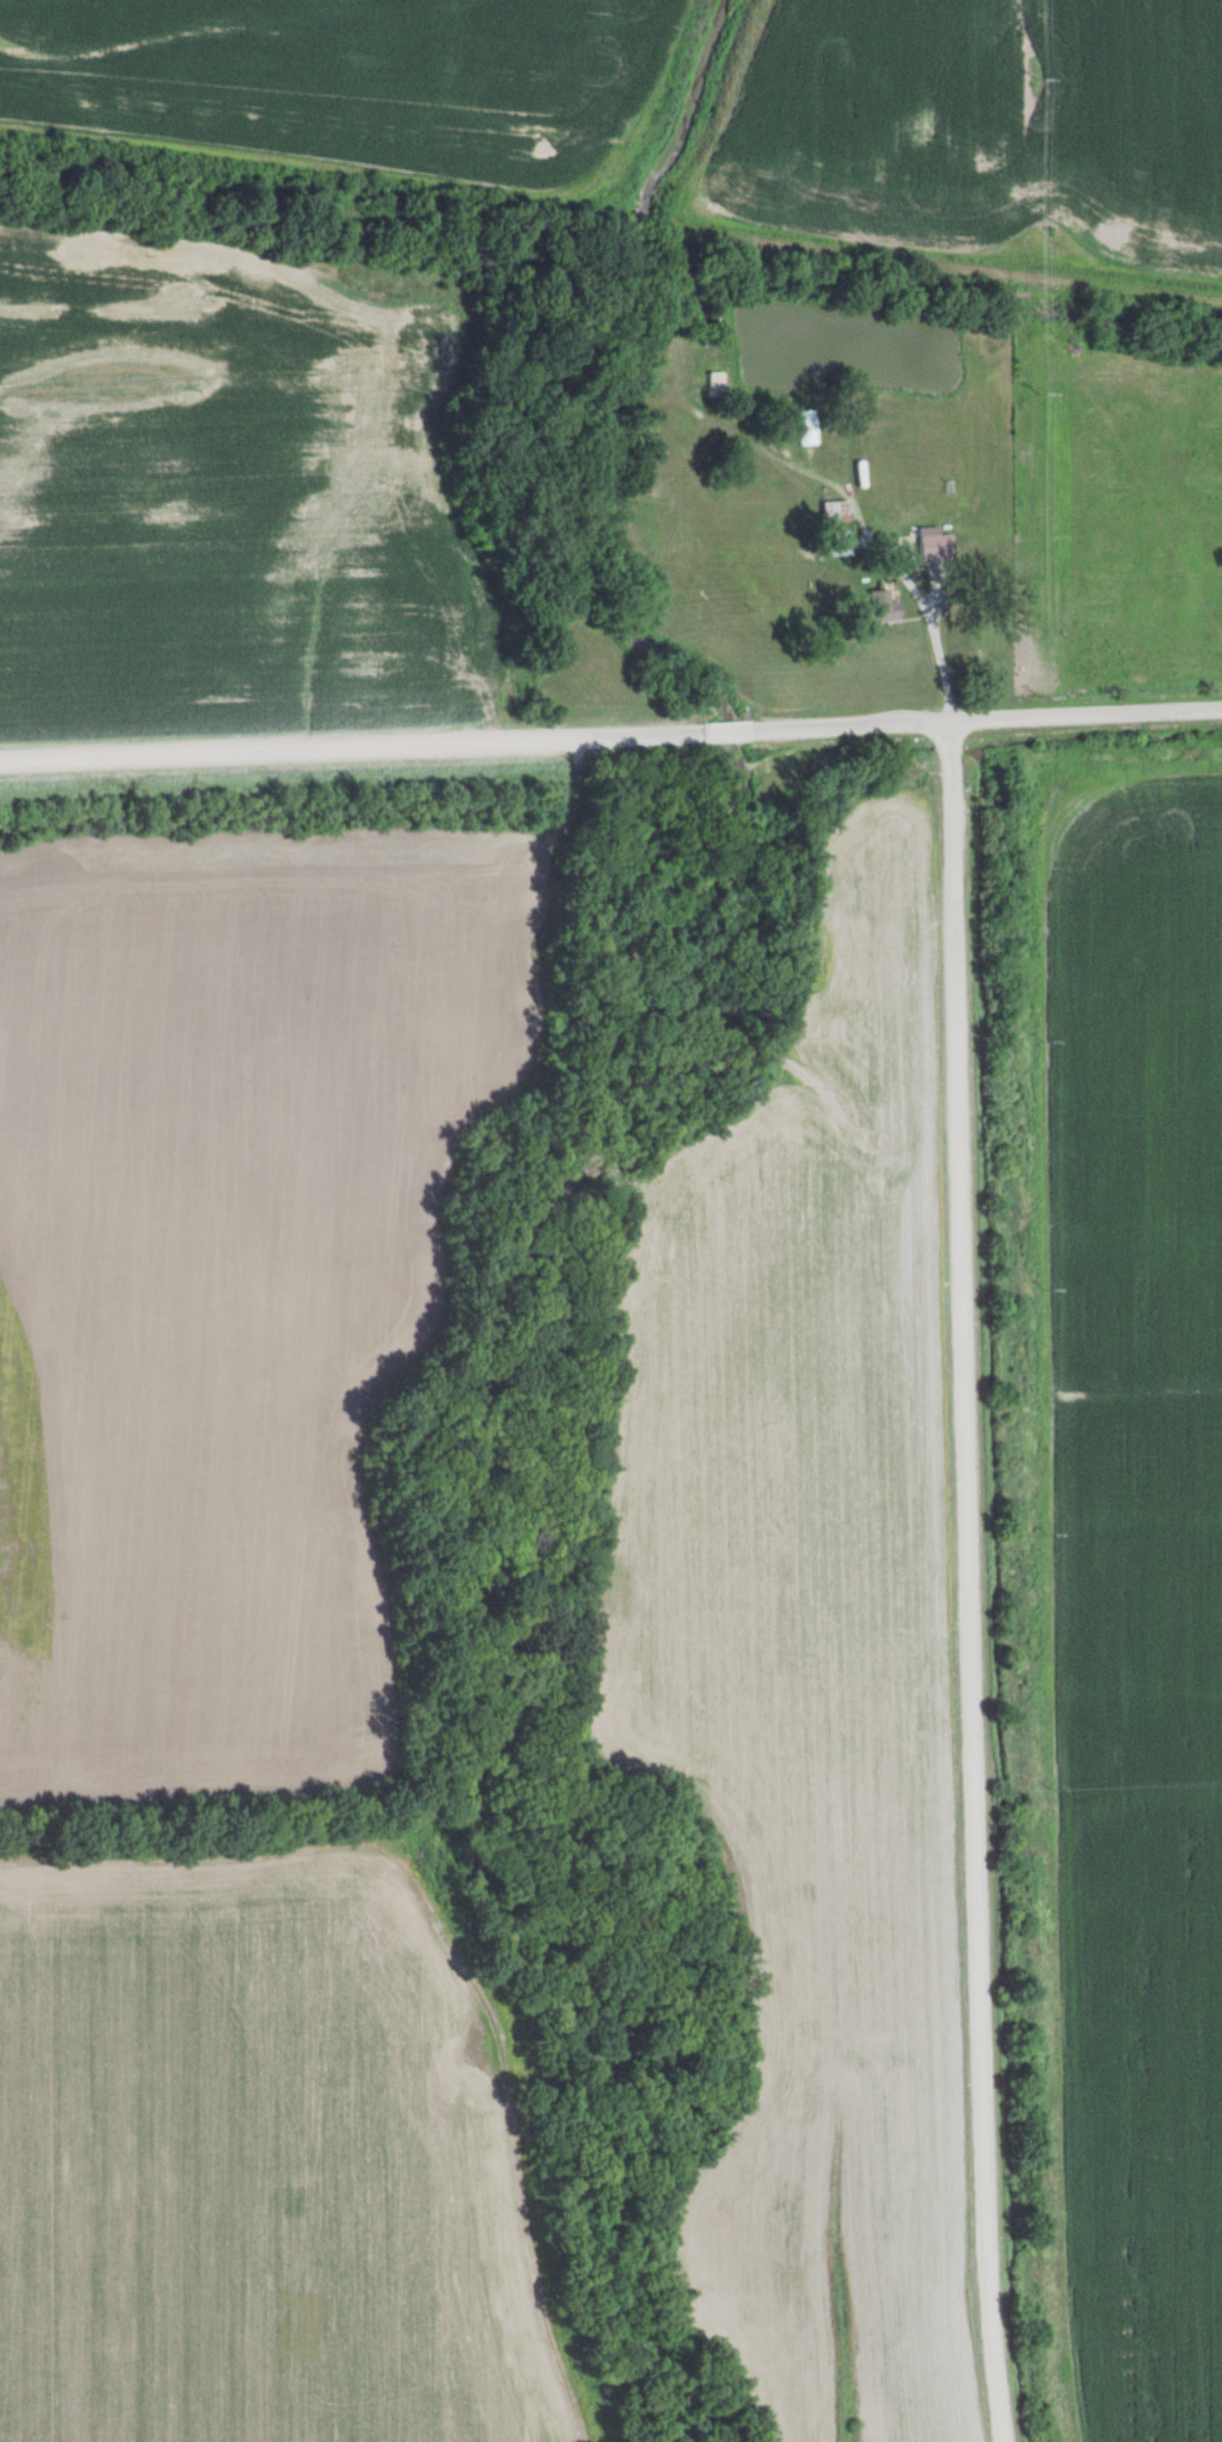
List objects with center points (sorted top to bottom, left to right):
crop: (356, 84)
crop: (978, 130)
building: (805, 436)
crop: (231, 493)
building: (830, 529)
building: (932, 548)
building: (872, 607)
road: (610, 740)
crop: (228, 1273)
road: (967, 1584)
crop: (1139, 1590)
crop: (807, 1661)
crop: (260, 2156)

